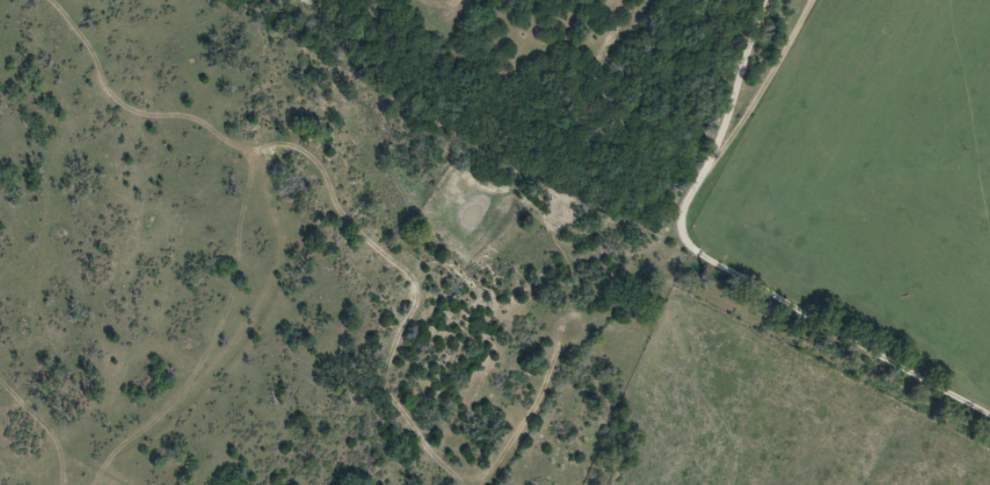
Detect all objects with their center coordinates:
road: (725, 264)

